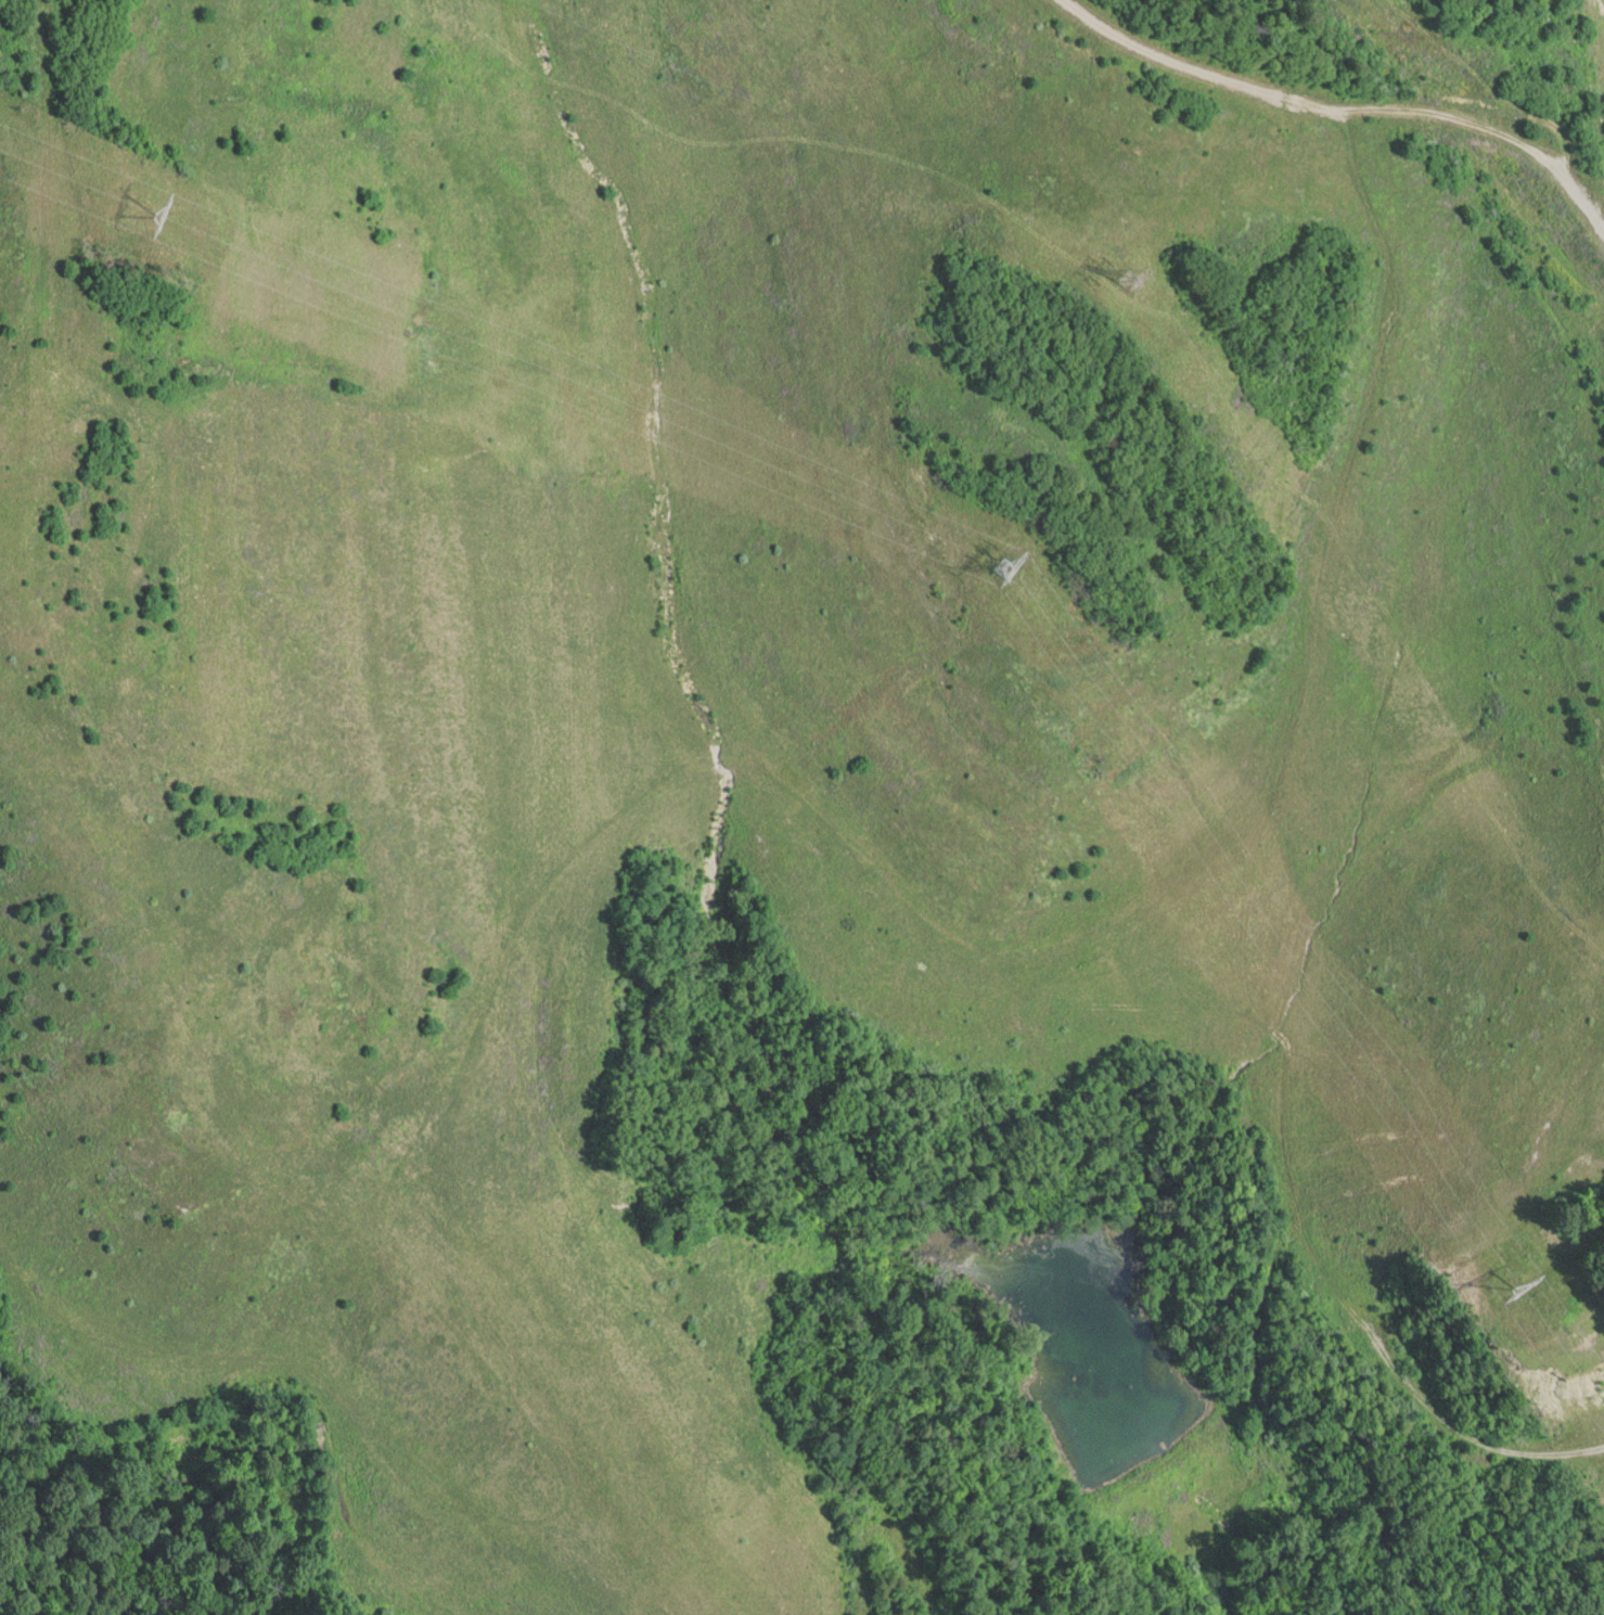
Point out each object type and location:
power tower: (164, 195)
power tower: (1129, 270)
power tower: (1001, 549)
power tower: (1515, 1265)

